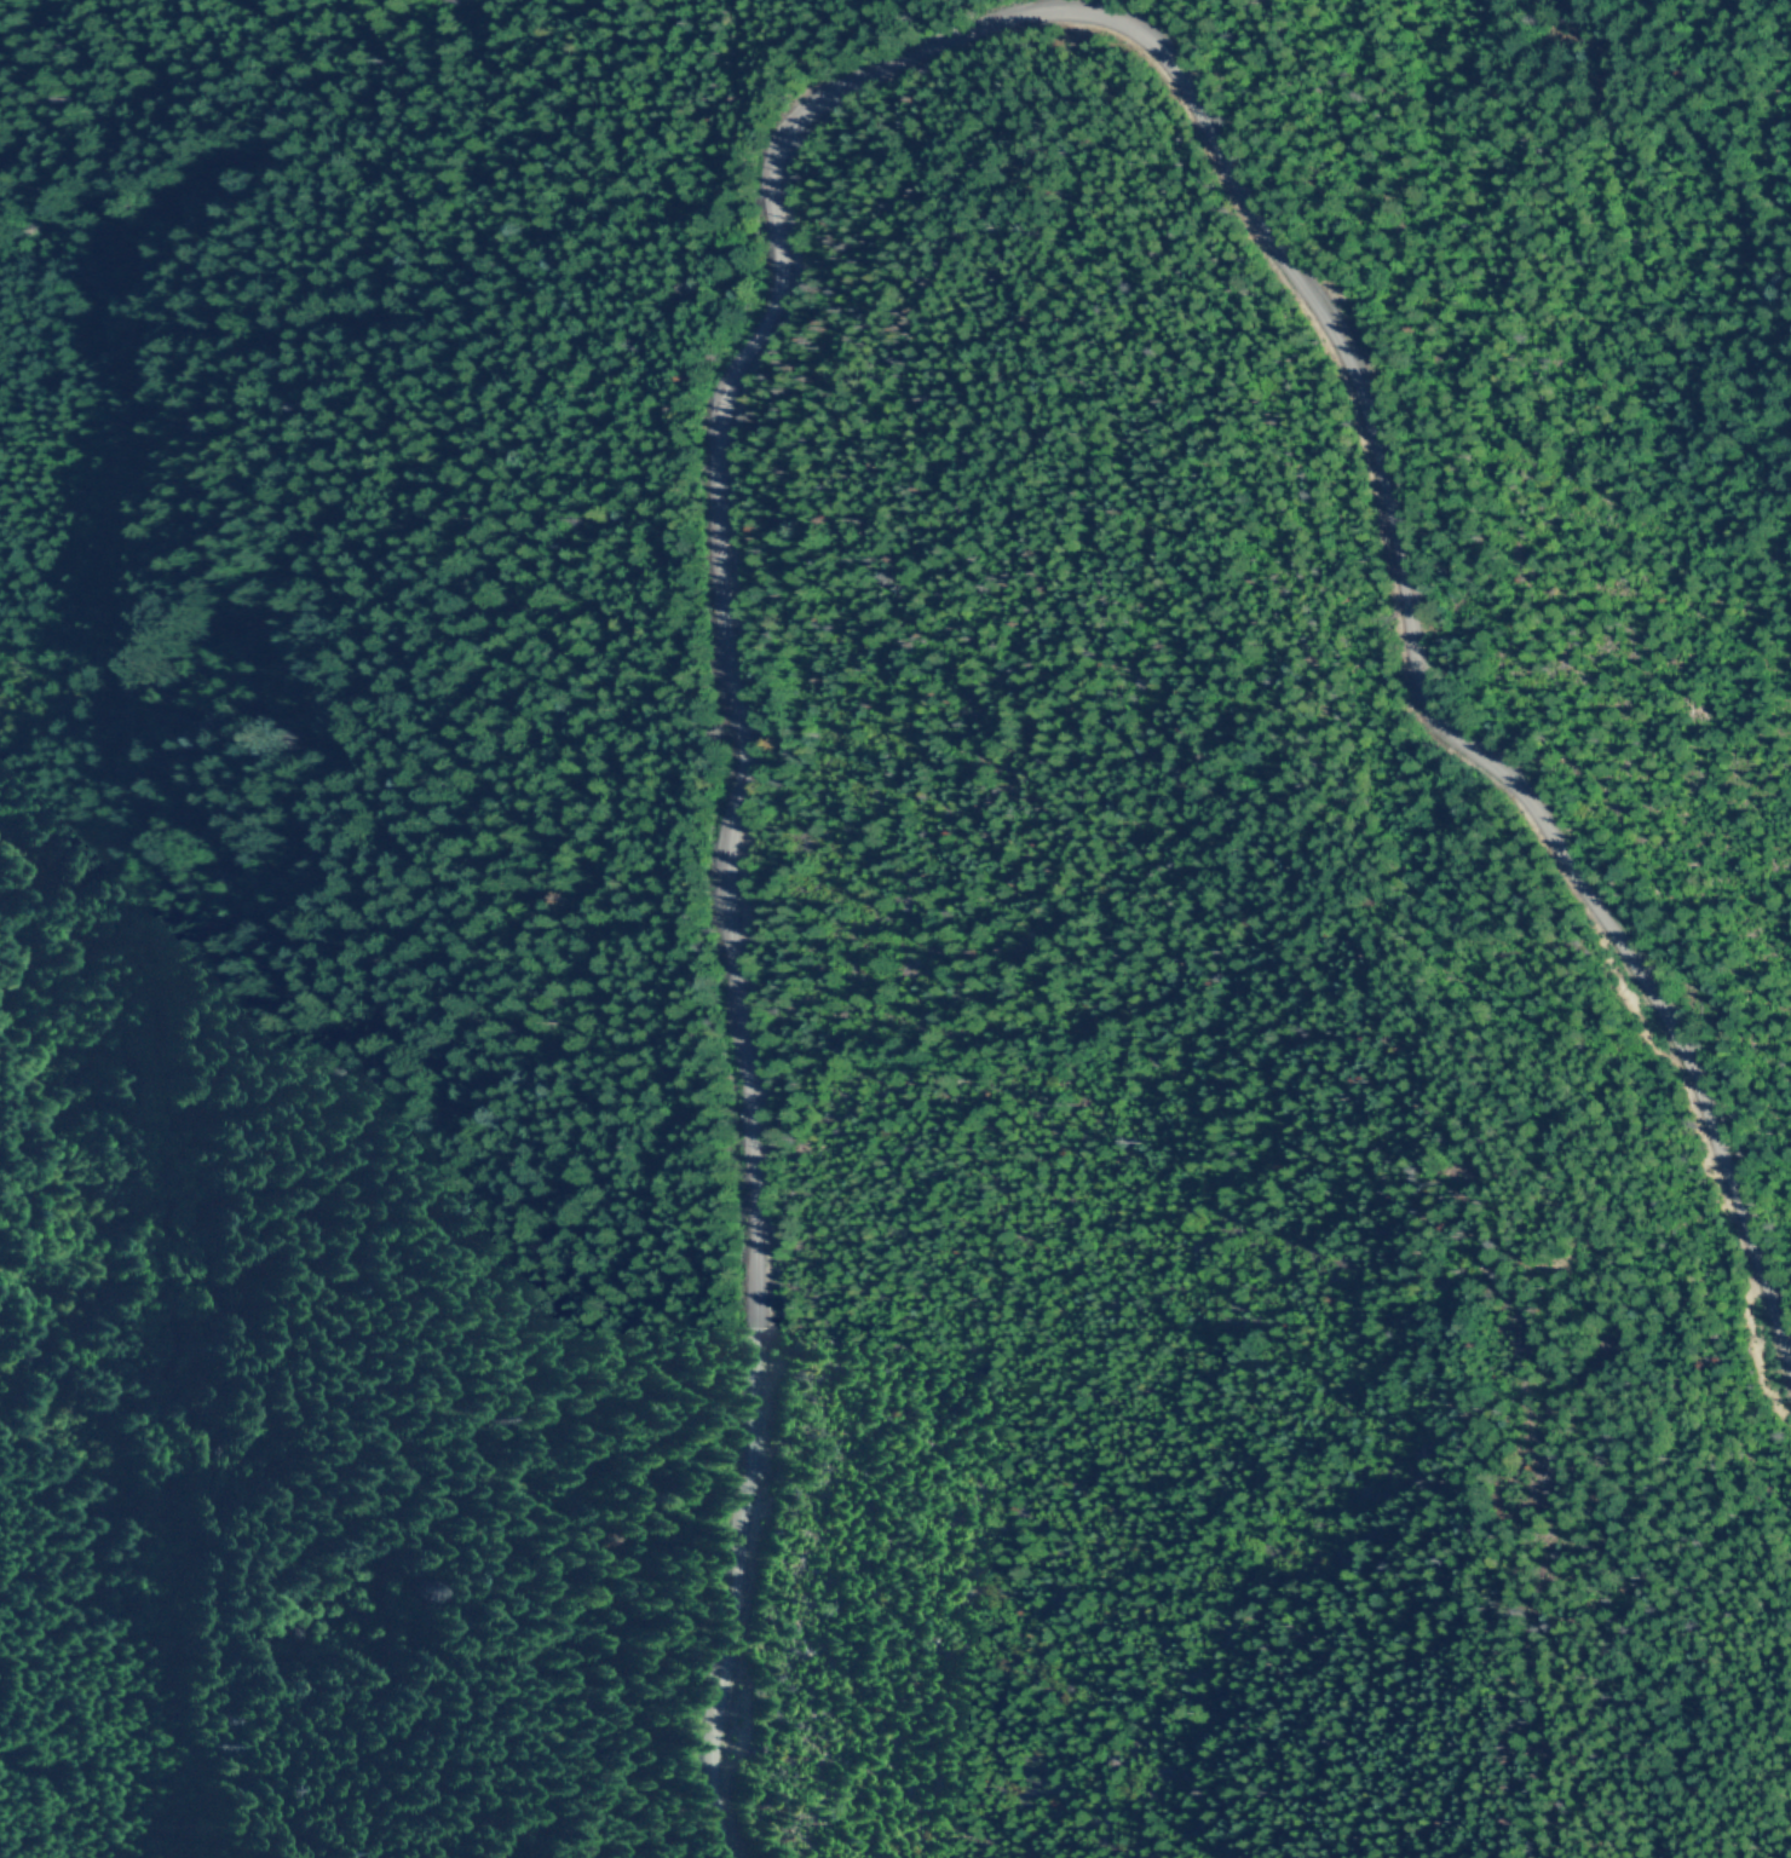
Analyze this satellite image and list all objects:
road: (842, 74)

